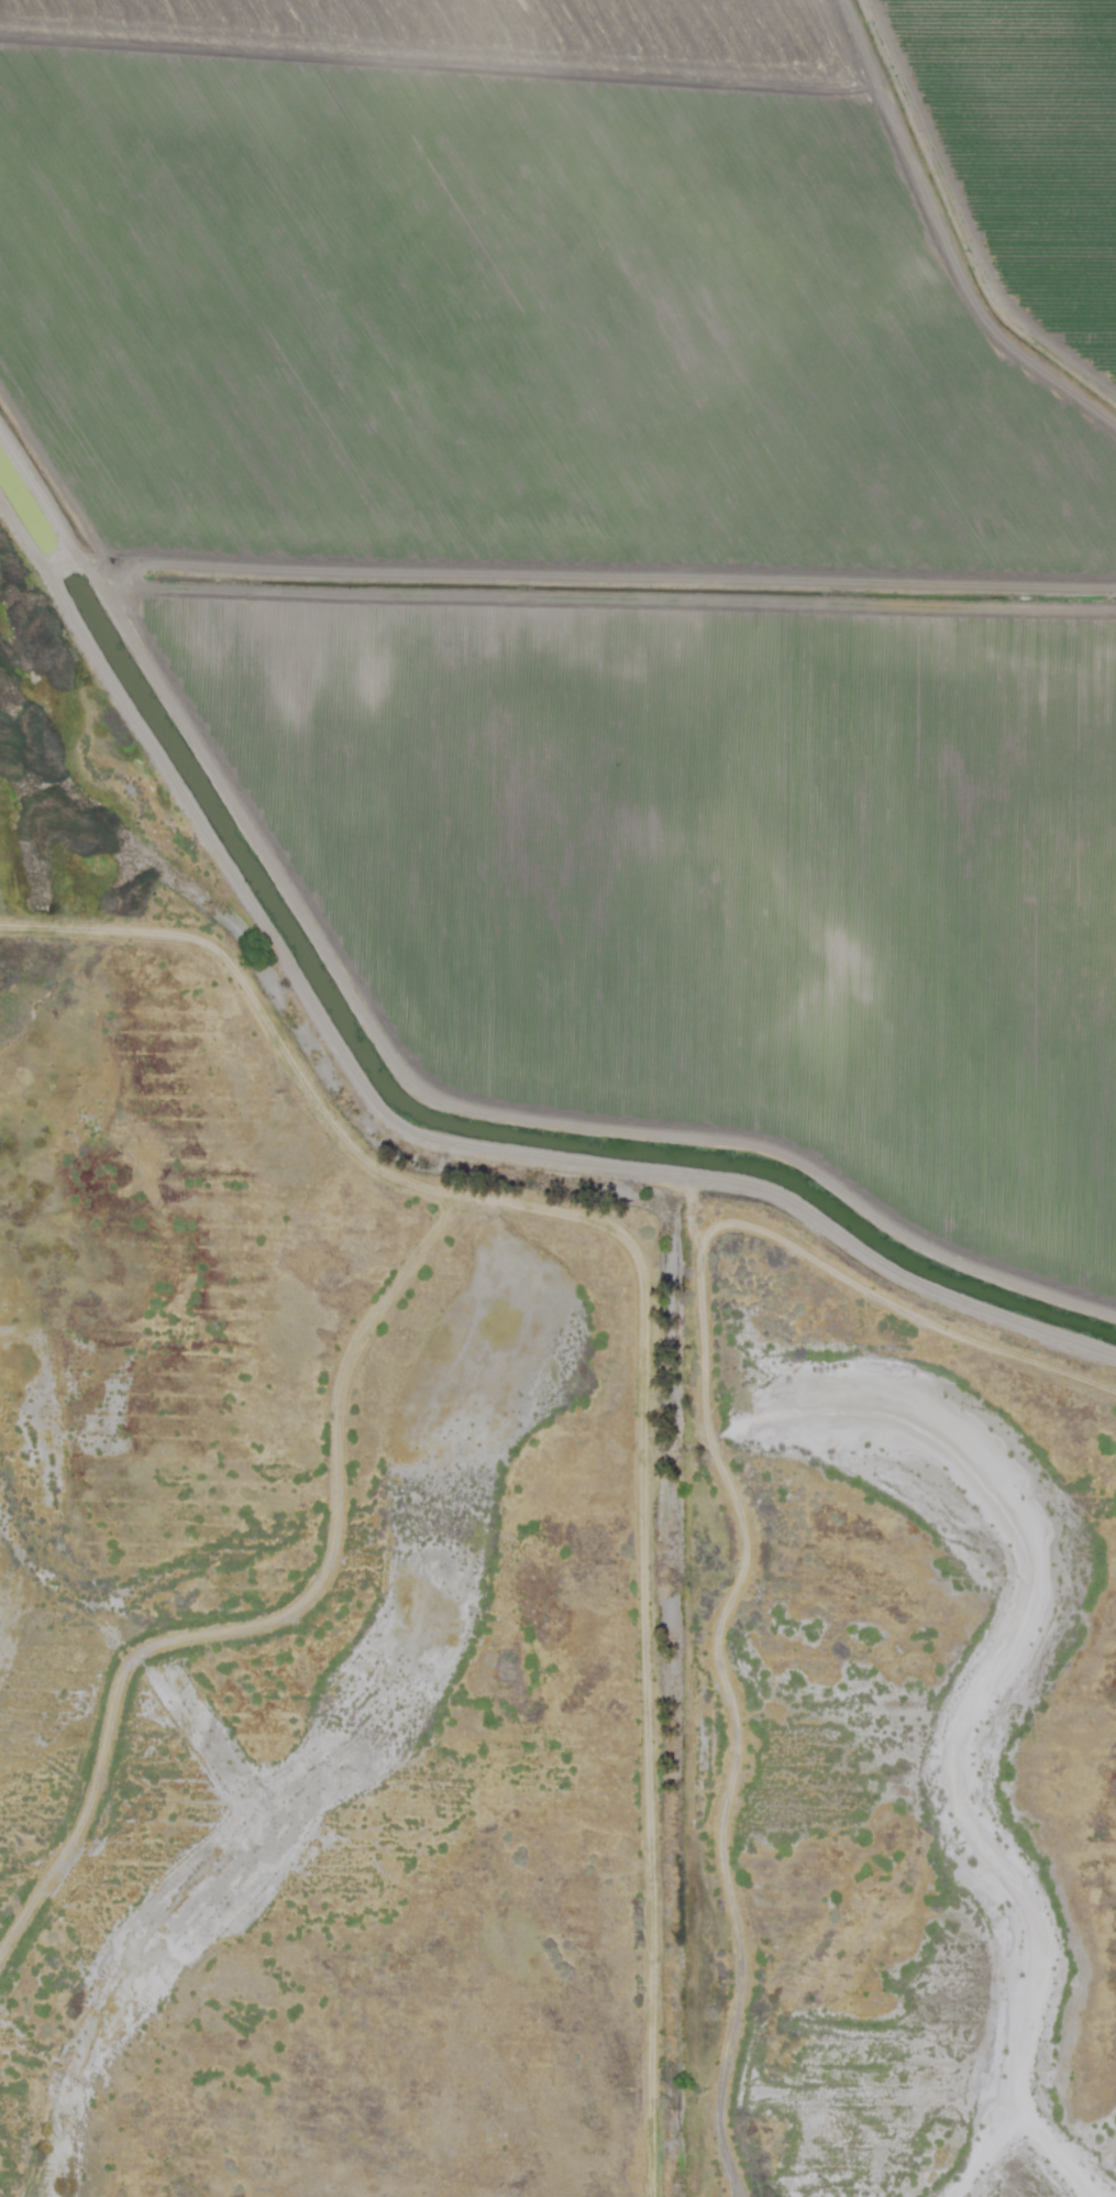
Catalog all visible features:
crop: (626, 553)
road: (622, 572)

